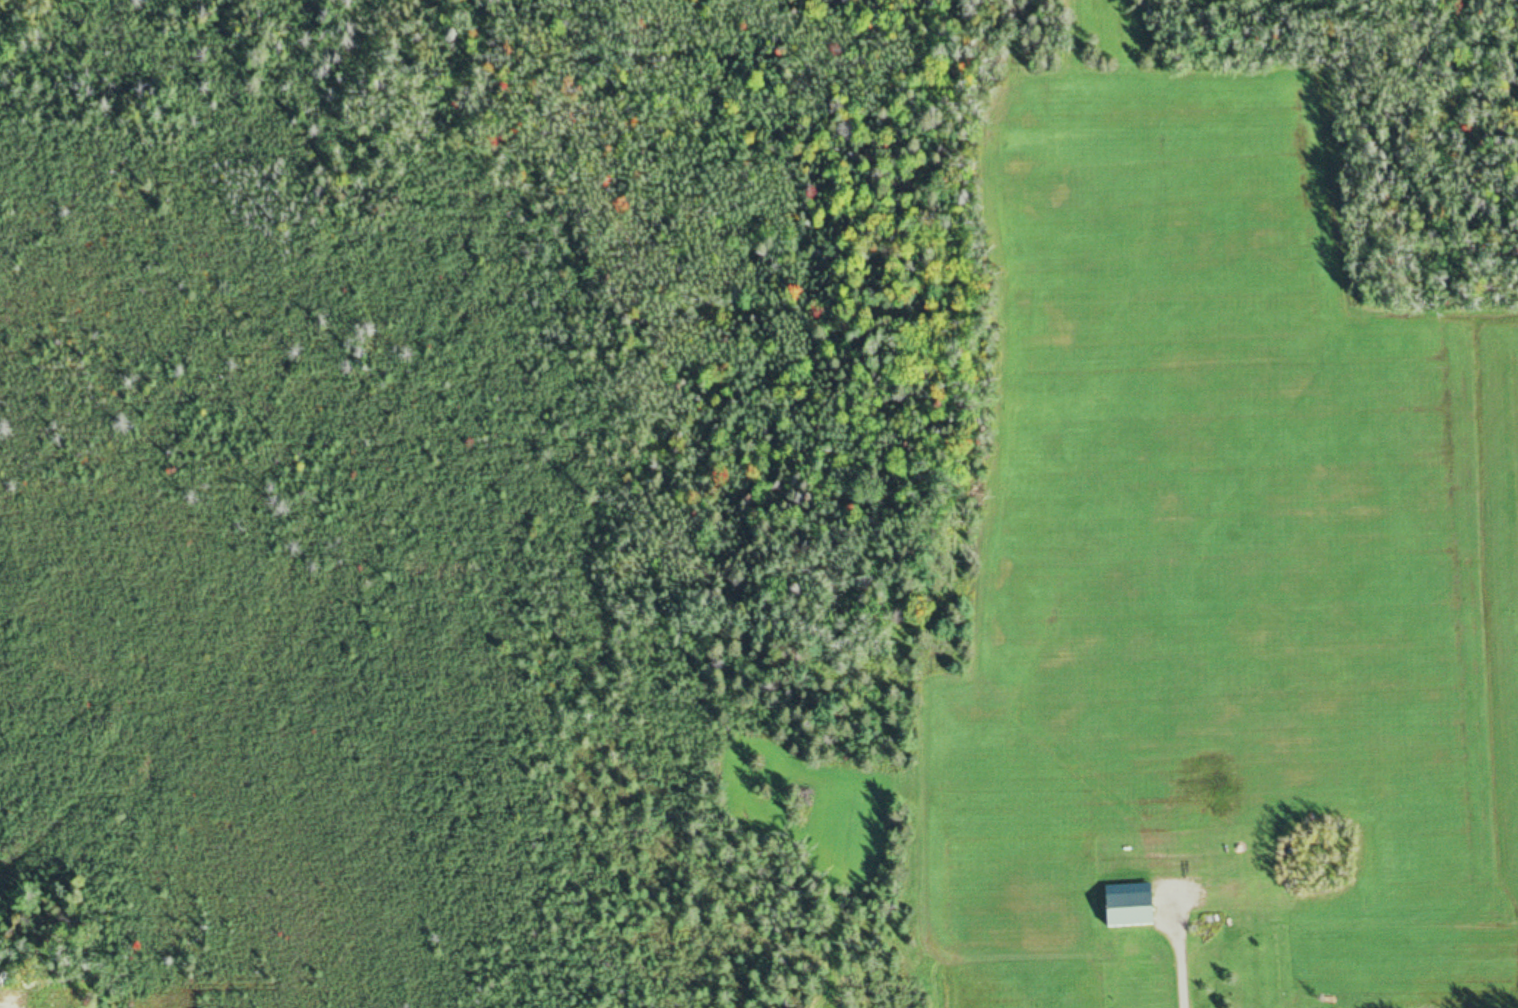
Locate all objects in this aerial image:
building: (1125, 906)
road: (1182, 942)

